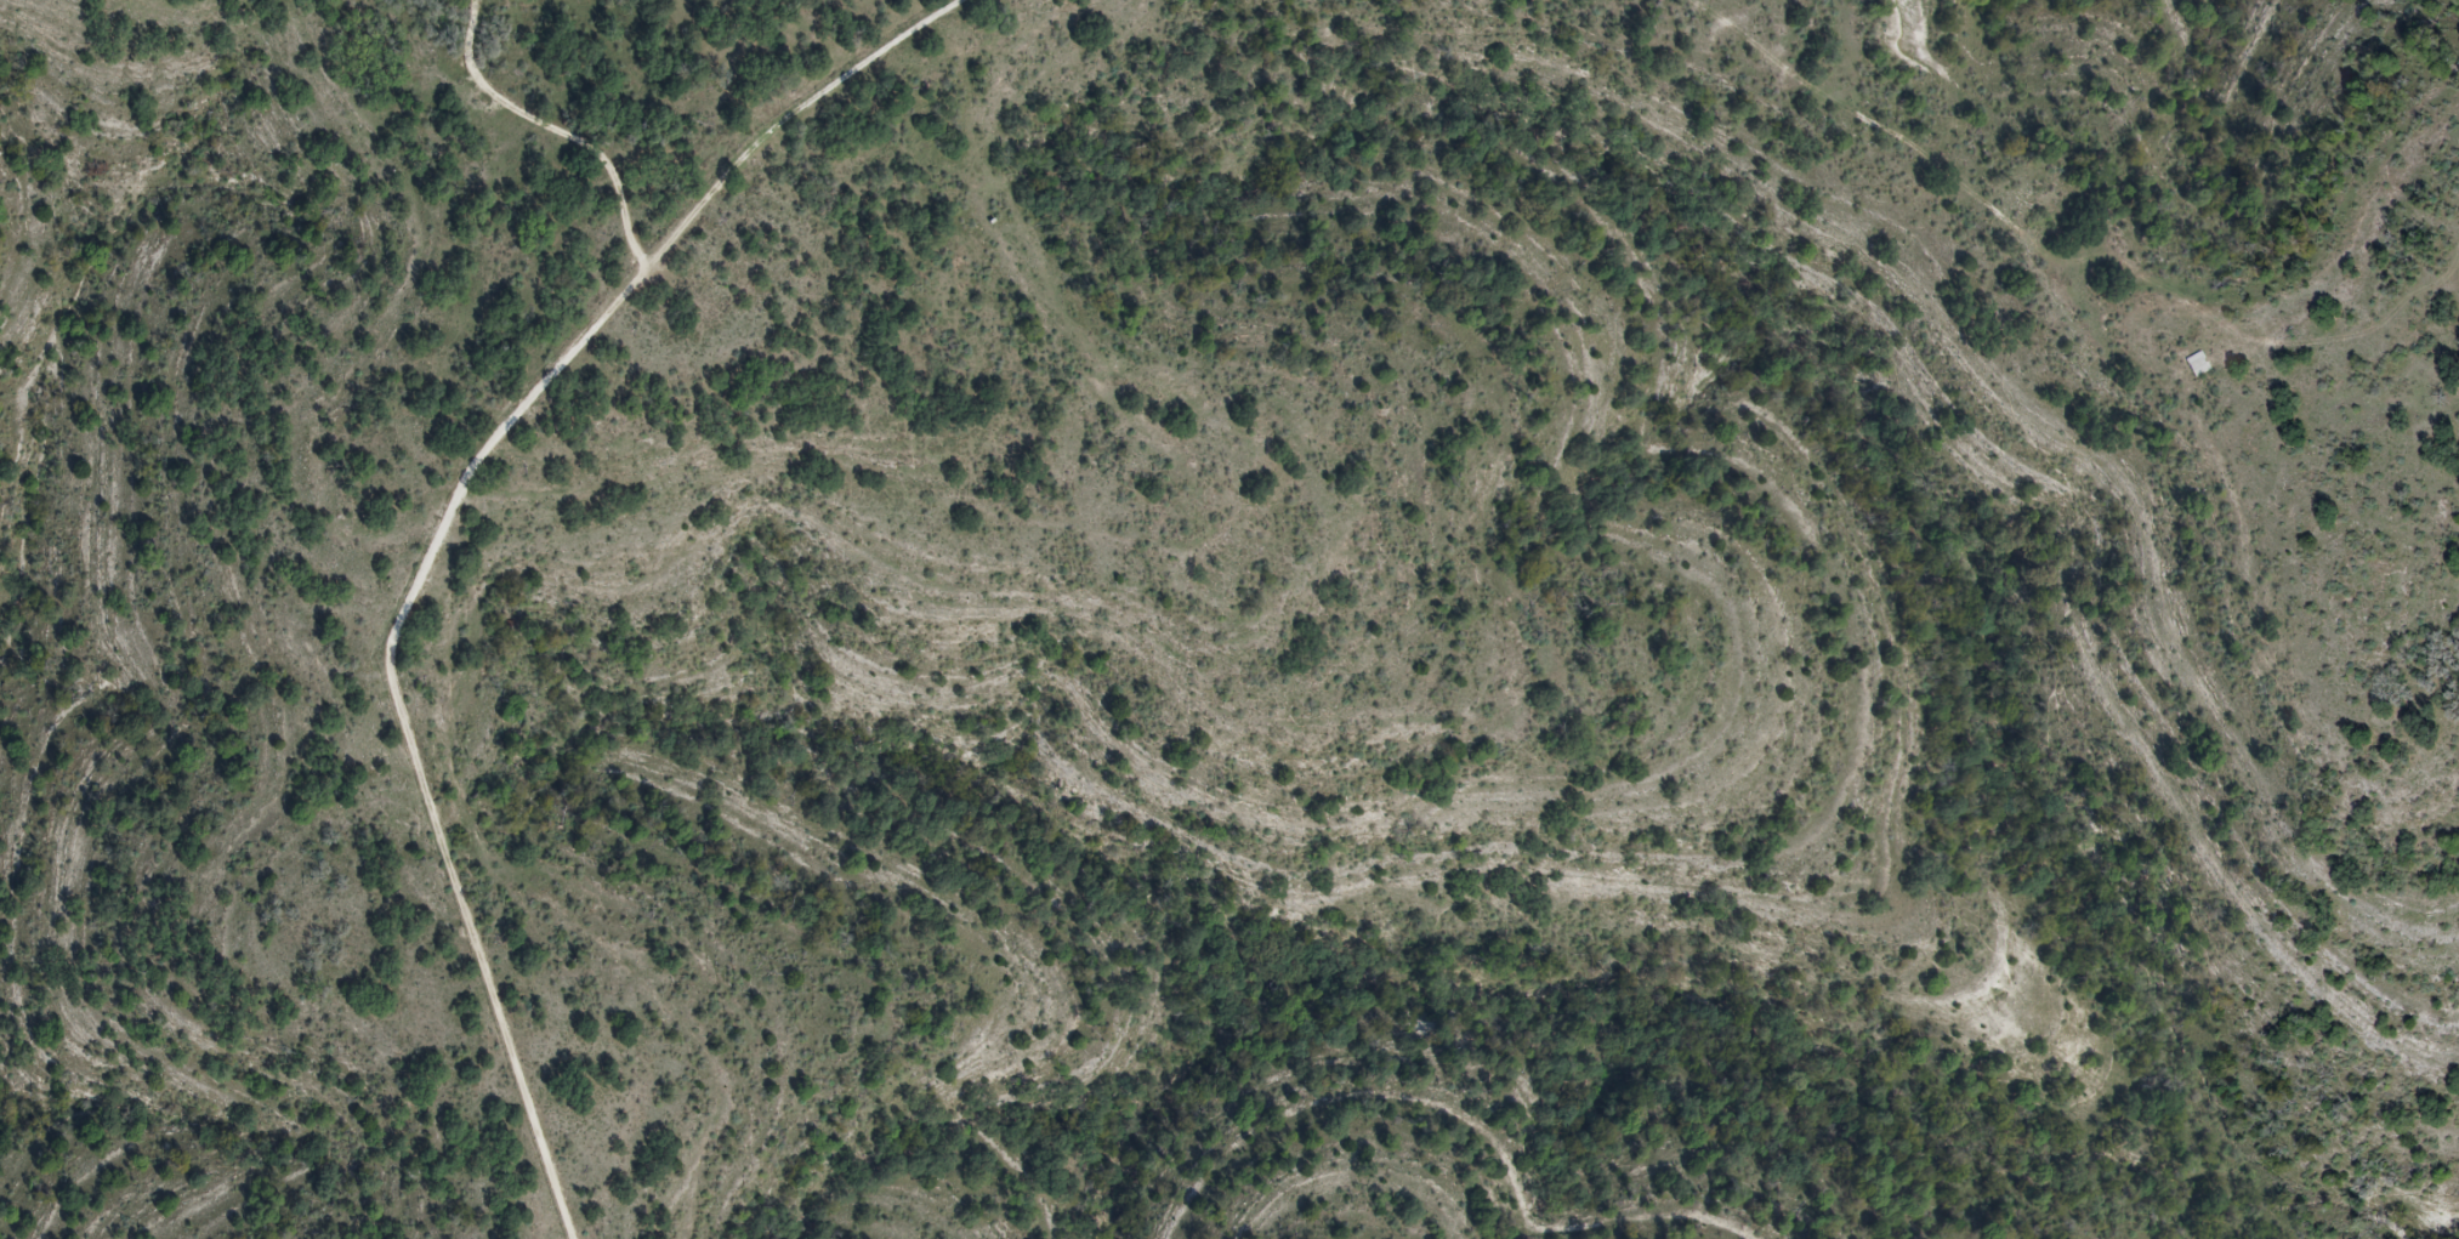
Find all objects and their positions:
building: (2194, 363)

